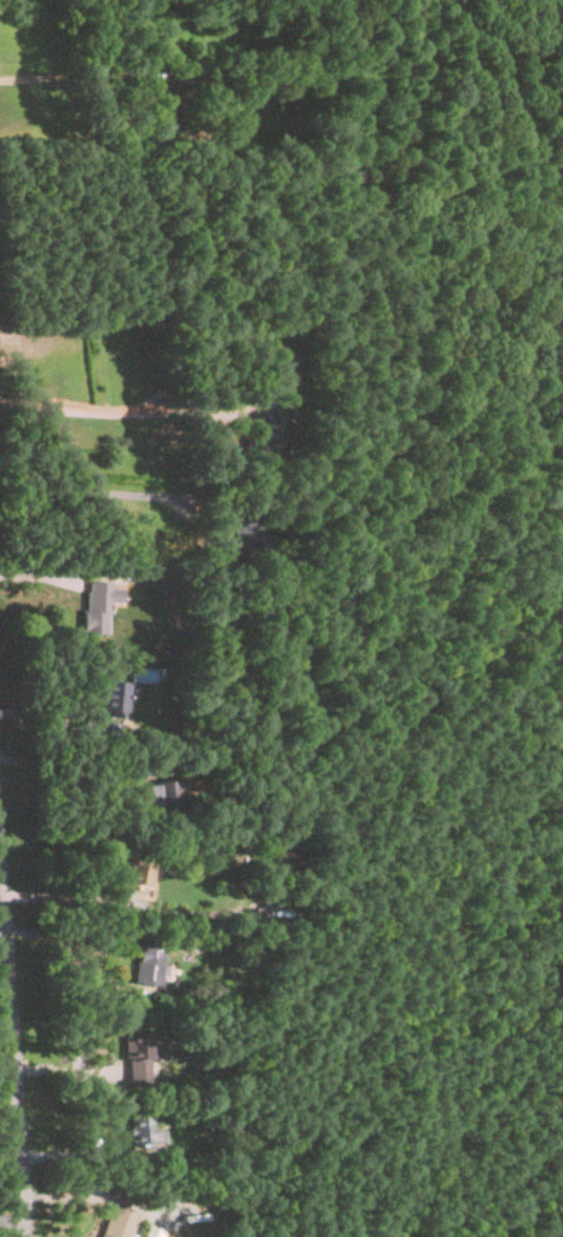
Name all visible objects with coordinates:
road: (57, 73)
building: (163, 108)
building: (278, 365)
road: (87, 409)
building: (257, 443)
road: (91, 491)
building: (99, 605)
building: (217, 625)
building: (112, 700)
building: (161, 796)
building: (273, 857)
building: (143, 871)
road: (130, 908)
road: (4, 932)
road: (66, 948)
building: (149, 965)
road: (14, 1031)
road: (8, 1051)
building: (138, 1057)
building: (144, 1132)
road: (13, 1216)
building: (117, 1222)

